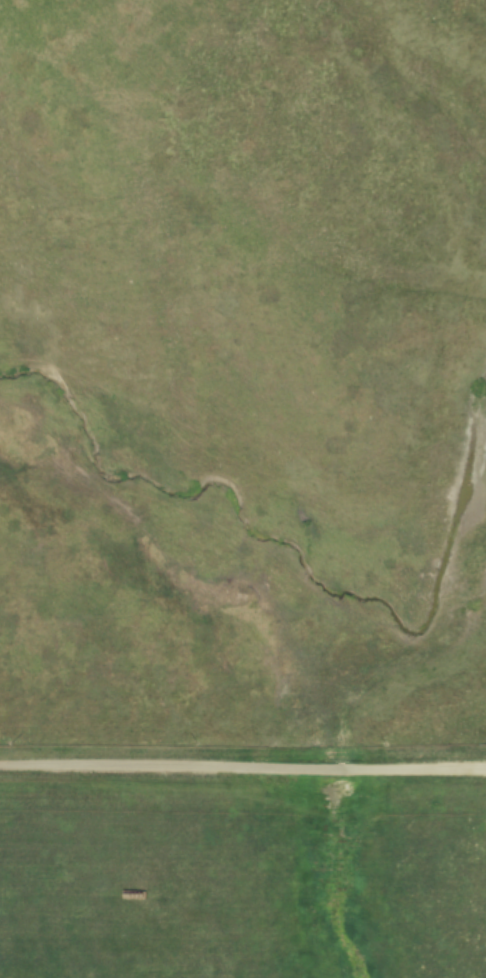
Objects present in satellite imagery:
road: (243, 776)

